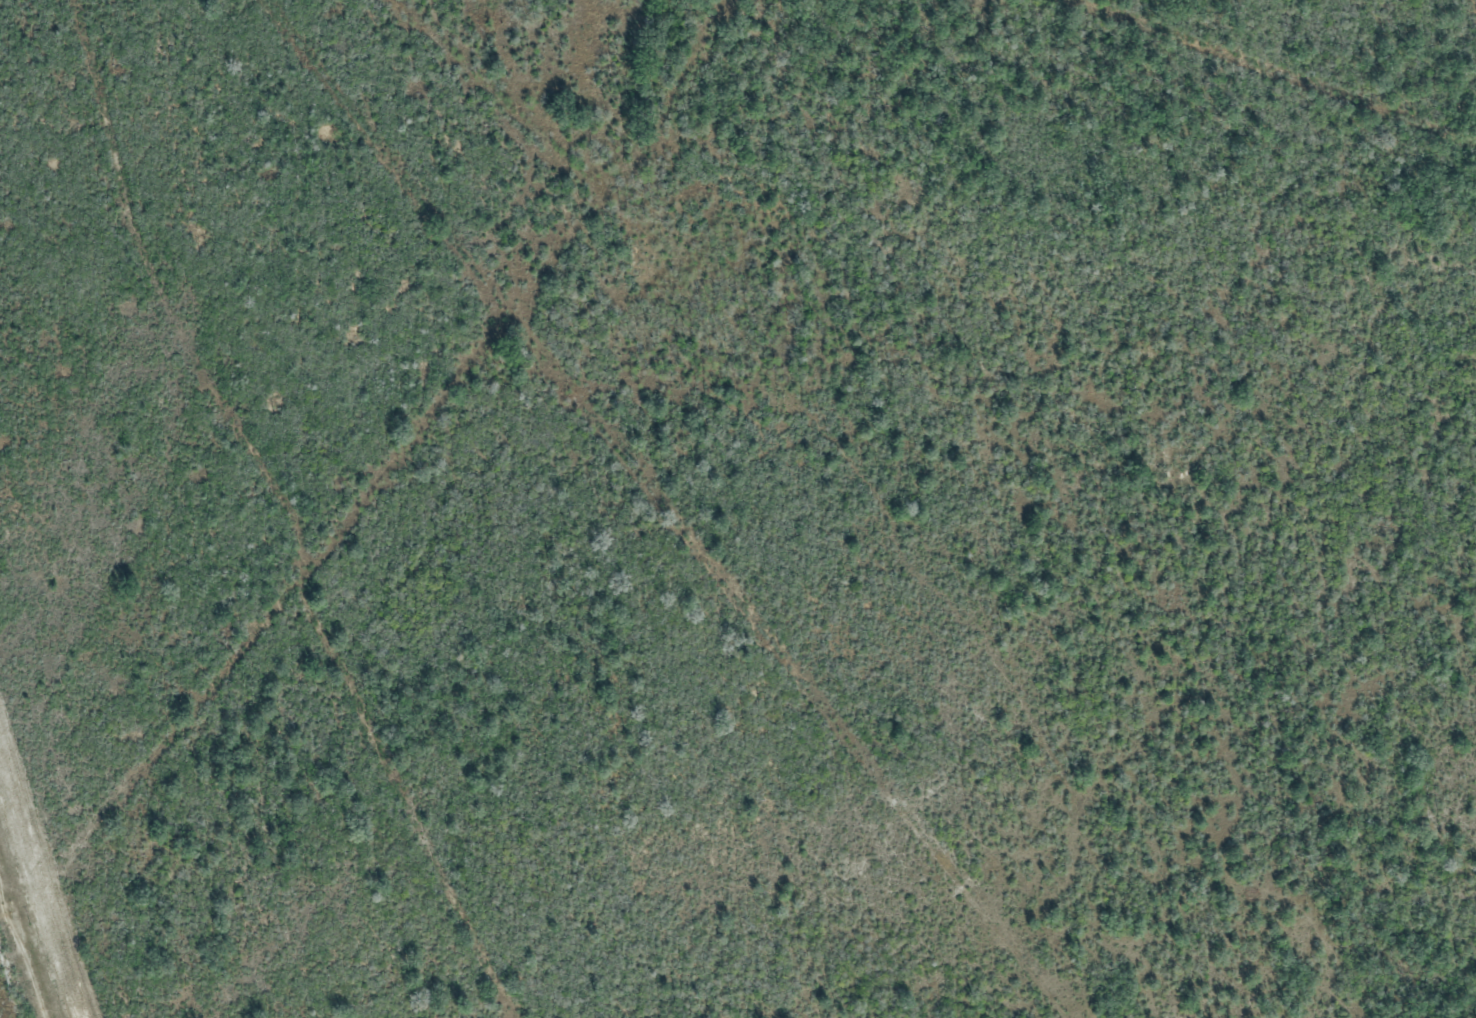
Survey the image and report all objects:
road: (473, 74)

